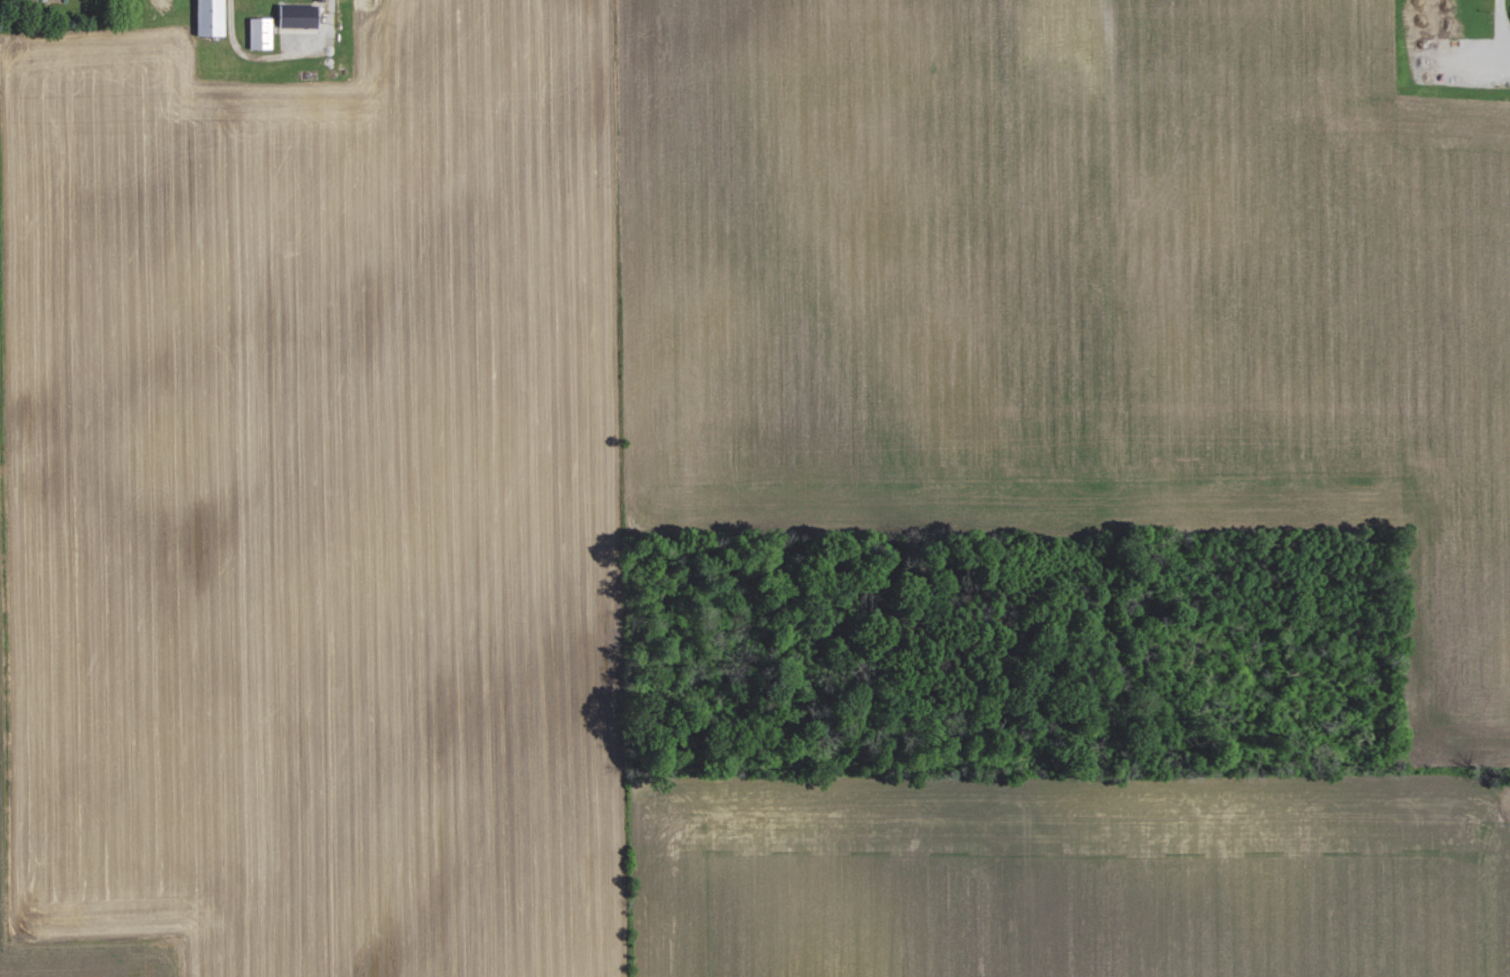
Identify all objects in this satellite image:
building: (306, 14)
building: (284, 15)
building: (205, 18)
road: (1501, 18)
road: (282, 59)

